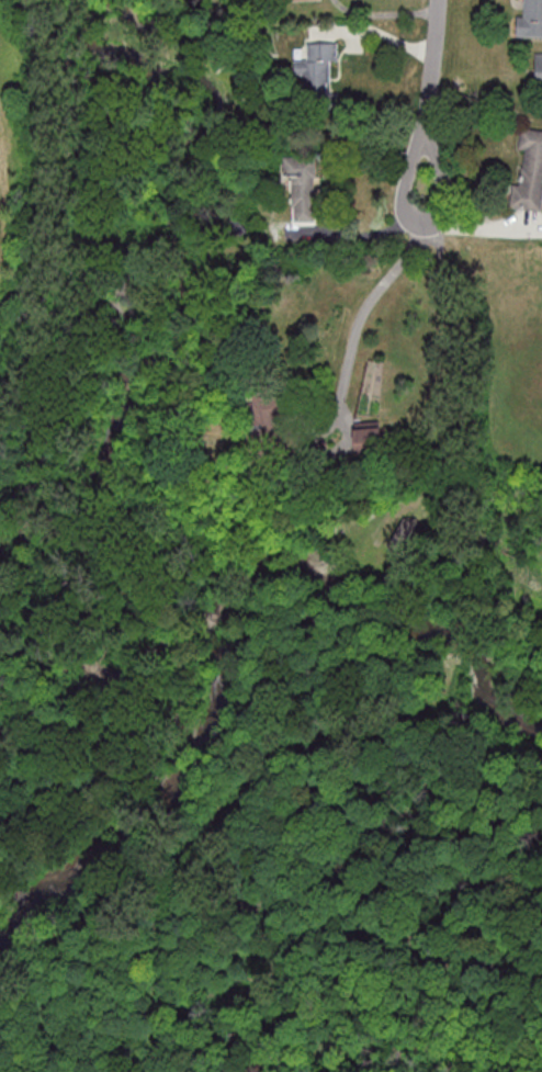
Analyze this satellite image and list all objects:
building: (297, 0)
road: (385, 12)
building: (530, 19)
building: (539, 67)
building: (317, 70)
road: (427, 97)
building: (530, 172)
building: (302, 188)
river: (173, 221)
road: (370, 304)
road: (448, 406)
building: (266, 417)
building: (368, 437)
river: (324, 567)
road: (456, 635)
road: (451, 666)
river: (129, 669)
road: (487, 721)
road: (247, 776)
road: (218, 816)
river: (106, 849)

